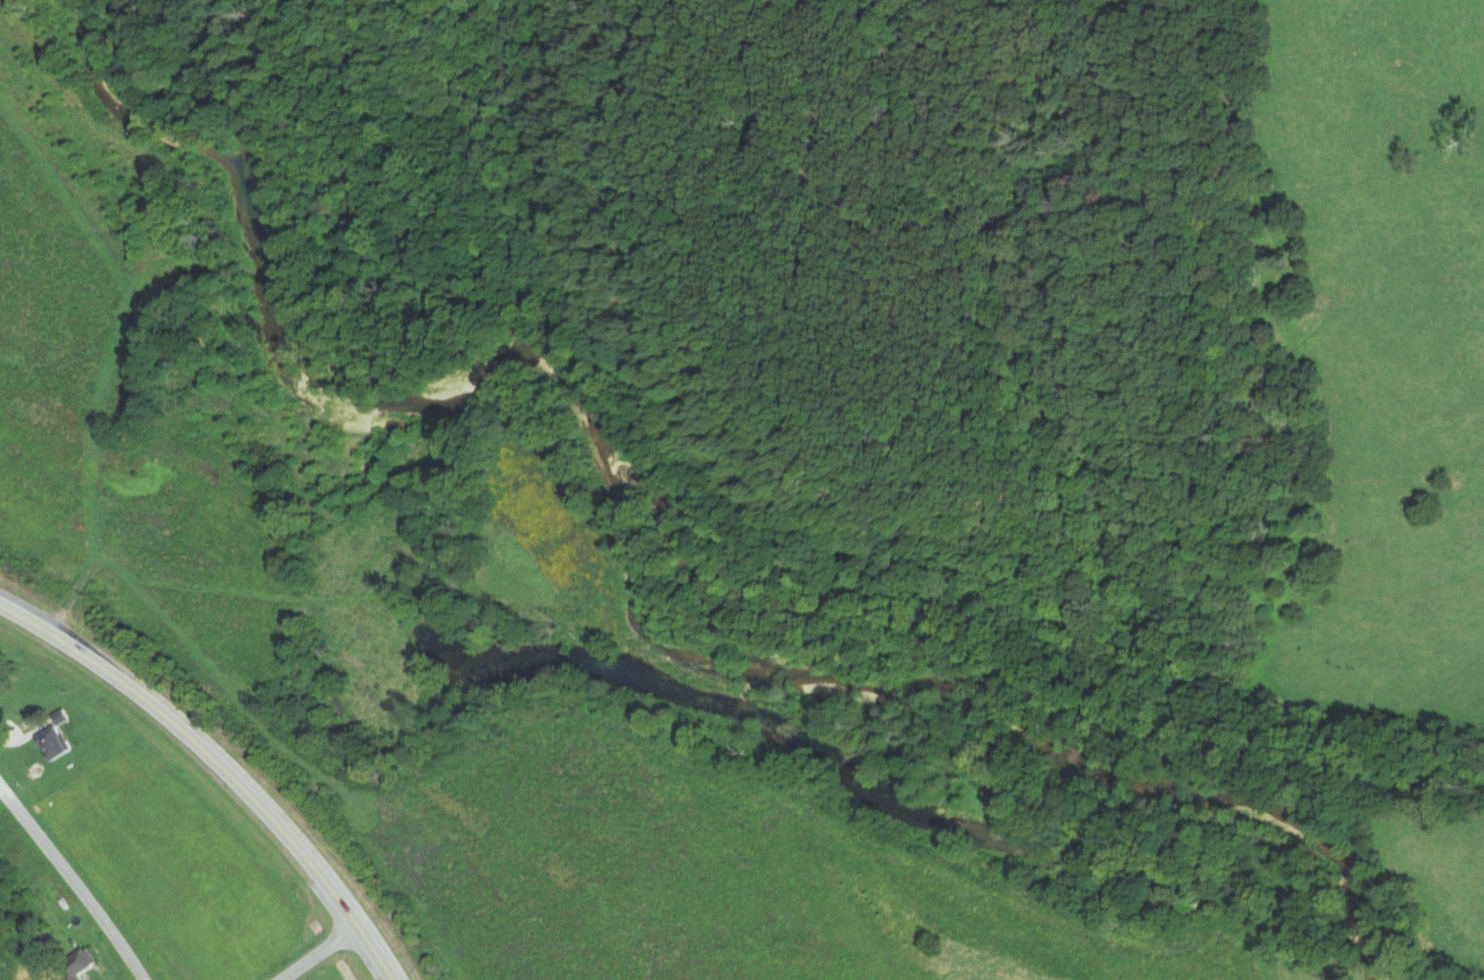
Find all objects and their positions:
building: (55, 742)
road: (221, 766)
road: (74, 881)
road: (319, 953)
building: (78, 964)

